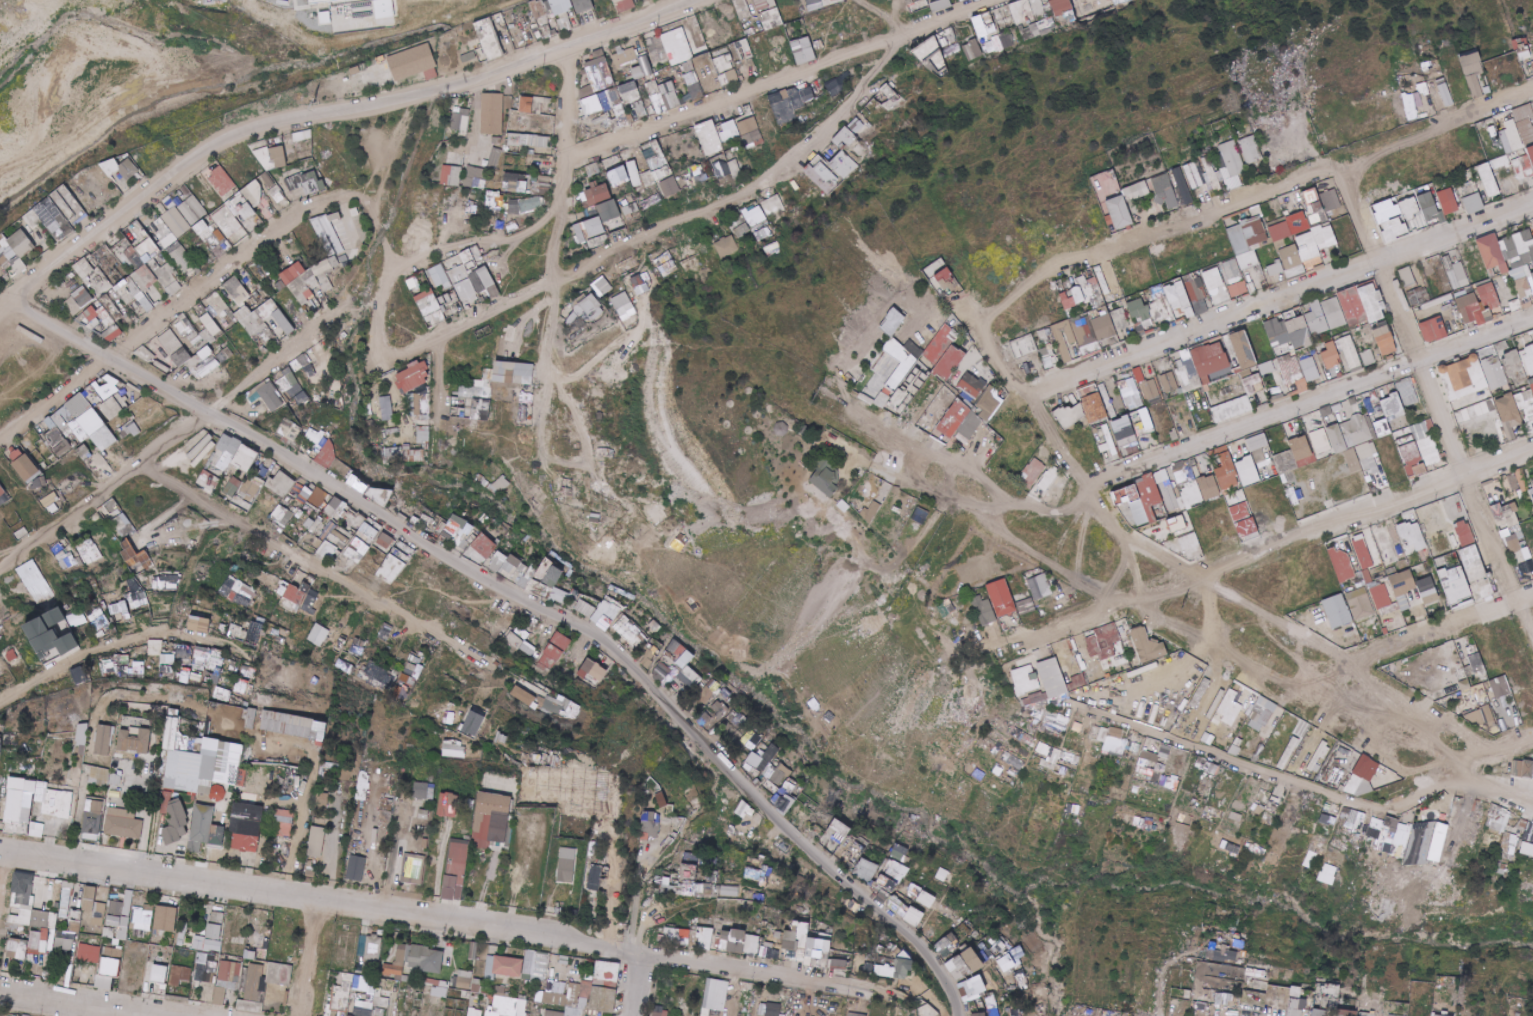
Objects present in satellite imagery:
park: (380, 146)

